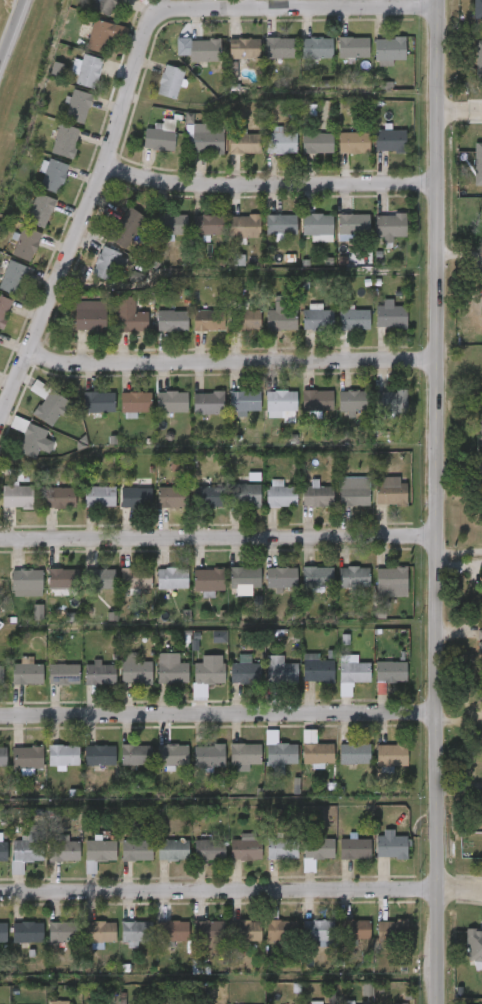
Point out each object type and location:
building: (116, 1)
building: (104, 6)
building: (477, 9)
road: (10, 27)
building: (100, 37)
building: (88, 48)
building: (244, 48)
building: (279, 48)
building: (317, 48)
building: (353, 48)
building: (390, 49)
building: (205, 51)
building: (301, 60)
building: (338, 60)
building: (229, 61)
building: (265, 61)
building: (190, 63)
building: (374, 63)
building: (88, 72)
building: (471, 72)
building: (169, 82)
building: (71, 83)
road: (129, 86)
building: (155, 95)
building: (78, 107)
road: (460, 113)
building: (63, 119)
building: (159, 140)
building: (207, 140)
building: (391, 141)
building: (64, 142)
building: (280, 143)
building: (317, 143)
building: (244, 144)
building: (353, 144)
building: (145, 149)
building: (266, 153)
building: (374, 153)
building: (50, 154)
building: (338, 155)
building: (229, 156)
building: (302, 156)
building: (470, 176)
building: (52, 177)
road: (270, 184)
building: (37, 188)
building: (40, 211)
building: (25, 223)
building: (173, 225)
building: (281, 225)
building: (317, 225)
building: (353, 225)
building: (208, 226)
building: (244, 227)
building: (391, 227)
building: (126, 228)
building: (156, 236)
building: (265, 236)
building: (192, 237)
building: (338, 237)
building: (229, 239)
building: (303, 239)
building: (375, 239)
building: (112, 240)
building: (26, 244)
road: (460, 255)
building: (11, 256)
building: (105, 264)
building: (93, 276)
building: (12, 277)
building: (4, 310)
building: (89, 315)
building: (128, 316)
building: (390, 316)
building: (281, 318)
building: (245, 320)
building: (317, 320)
building: (353, 320)
building: (172, 321)
building: (208, 321)
building: (75, 328)
building: (375, 328)
building: (115, 329)
building: (232, 332)
building: (302, 332)
building: (338, 332)
building: (157, 333)
building: (195, 333)
building: (266, 333)
road: (232, 362)
building: (280, 401)
building: (317, 401)
building: (354, 401)
building: (136, 402)
building: (172, 402)
building: (244, 402)
building: (392, 402)
building: (98, 403)
building: (208, 403)
building: (48, 404)
building: (302, 413)
building: (84, 414)
building: (156, 414)
building: (229, 414)
building: (193, 415)
building: (265, 415)
building: (375, 415)
building: (32, 416)
building: (120, 416)
building: (480, 439)
building: (31, 442)
building: (19, 454)
building: (391, 492)
building: (244, 496)
building: (353, 496)
building: (17, 497)
building: (99, 497)
building: (208, 497)
building: (281, 497)
building: (317, 497)
building: (59, 498)
building: (136, 498)
building: (172, 498)
road: (437, 501)
building: (338, 504)
building: (376, 504)
building: (230, 507)
building: (265, 507)
building: (193, 508)
building: (302, 508)
building: (9, 509)
building: (84, 509)
building: (154, 509)
building: (45, 510)
building: (120, 510)
road: (218, 537)
building: (477, 539)
building: (135, 578)
building: (172, 578)
building: (244, 578)
building: (281, 578)
building: (317, 578)
building: (354, 578)
building: (103, 579)
building: (391, 579)
building: (210, 580)
building: (62, 582)
building: (26, 583)
building: (338, 589)
building: (302, 590)
building: (87, 591)
building: (120, 591)
building: (157, 591)
building: (229, 591)
building: (266, 592)
building: (193, 594)
building: (376, 594)
building: (13, 595)
building: (43, 595)
building: (477, 598)
building: (23, 624)
building: (479, 643)
building: (204, 648)
building: (317, 669)
building: (135, 670)
building: (171, 670)
building: (280, 670)
building: (208, 672)
building: (354, 672)
building: (391, 672)
building: (242, 673)
building: (1, 674)
building: (27, 674)
building: (63, 675)
building: (100, 675)
building: (156, 681)
building: (302, 681)
building: (120, 682)
building: (194, 682)
building: (265, 682)
building: (13, 684)
building: (230, 684)
building: (376, 684)
building: (48, 686)
building: (84, 686)
building: (336, 686)
building: (478, 696)
road: (219, 715)
road: (460, 719)
building: (479, 746)
building: (317, 754)
building: (100, 755)
building: (136, 755)
building: (172, 755)
building: (245, 755)
building: (281, 755)
building: (354, 755)
building: (63, 756)
building: (208, 756)
building: (391, 756)
building: (3, 757)
building: (26, 758)
building: (264, 765)
building: (339, 766)
building: (84, 767)
building: (120, 767)
building: (157, 767)
building: (302, 767)
building: (48, 768)
building: (193, 768)
building: (229, 768)
building: (376, 769)
building: (13, 770)
building: (481, 800)
building: (29, 847)
building: (391, 847)
building: (282, 849)
building: (355, 849)
building: (136, 850)
building: (173, 850)
building: (209, 850)
building: (245, 850)
building: (64, 851)
building: (100, 851)
building: (316, 852)
building: (375, 858)
building: (339, 860)
building: (267, 861)
building: (303, 861)
building: (14, 862)
building: (85, 862)
building: (121, 862)
building: (158, 862)
building: (230, 862)
building: (49, 863)
building: (194, 863)
building: (476, 863)
building: (75, 879)
building: (4, 880)
road: (460, 890)
road: (219, 891)
building: (280, 930)
building: (354, 930)
building: (100, 931)
building: (208, 931)
building: (246, 931)
building: (318, 931)
building: (3, 932)
building: (24, 932)
building: (63, 932)
building: (136, 932)
building: (173, 932)
building: (392, 932)
building: (339, 941)
building: (377, 941)
building: (158, 942)
building: (230, 943)
building: (266, 943)
building: (12, 944)
building: (46, 944)
building: (194, 944)
building: (121, 945)
building: (303, 945)
building: (474, 945)
building: (85, 946)
building: (464, 957)
building: (353, 999)
building: (58, 1003)
building: (312, 1003)
building: (345, 1003)

